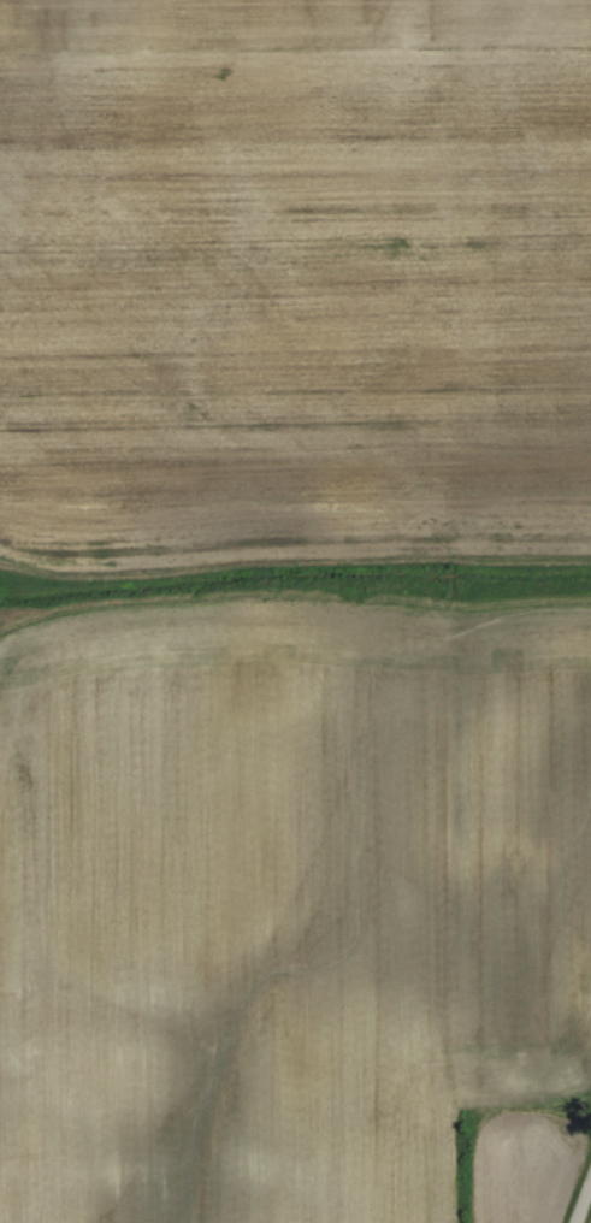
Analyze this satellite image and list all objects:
road: (584, 1206)

